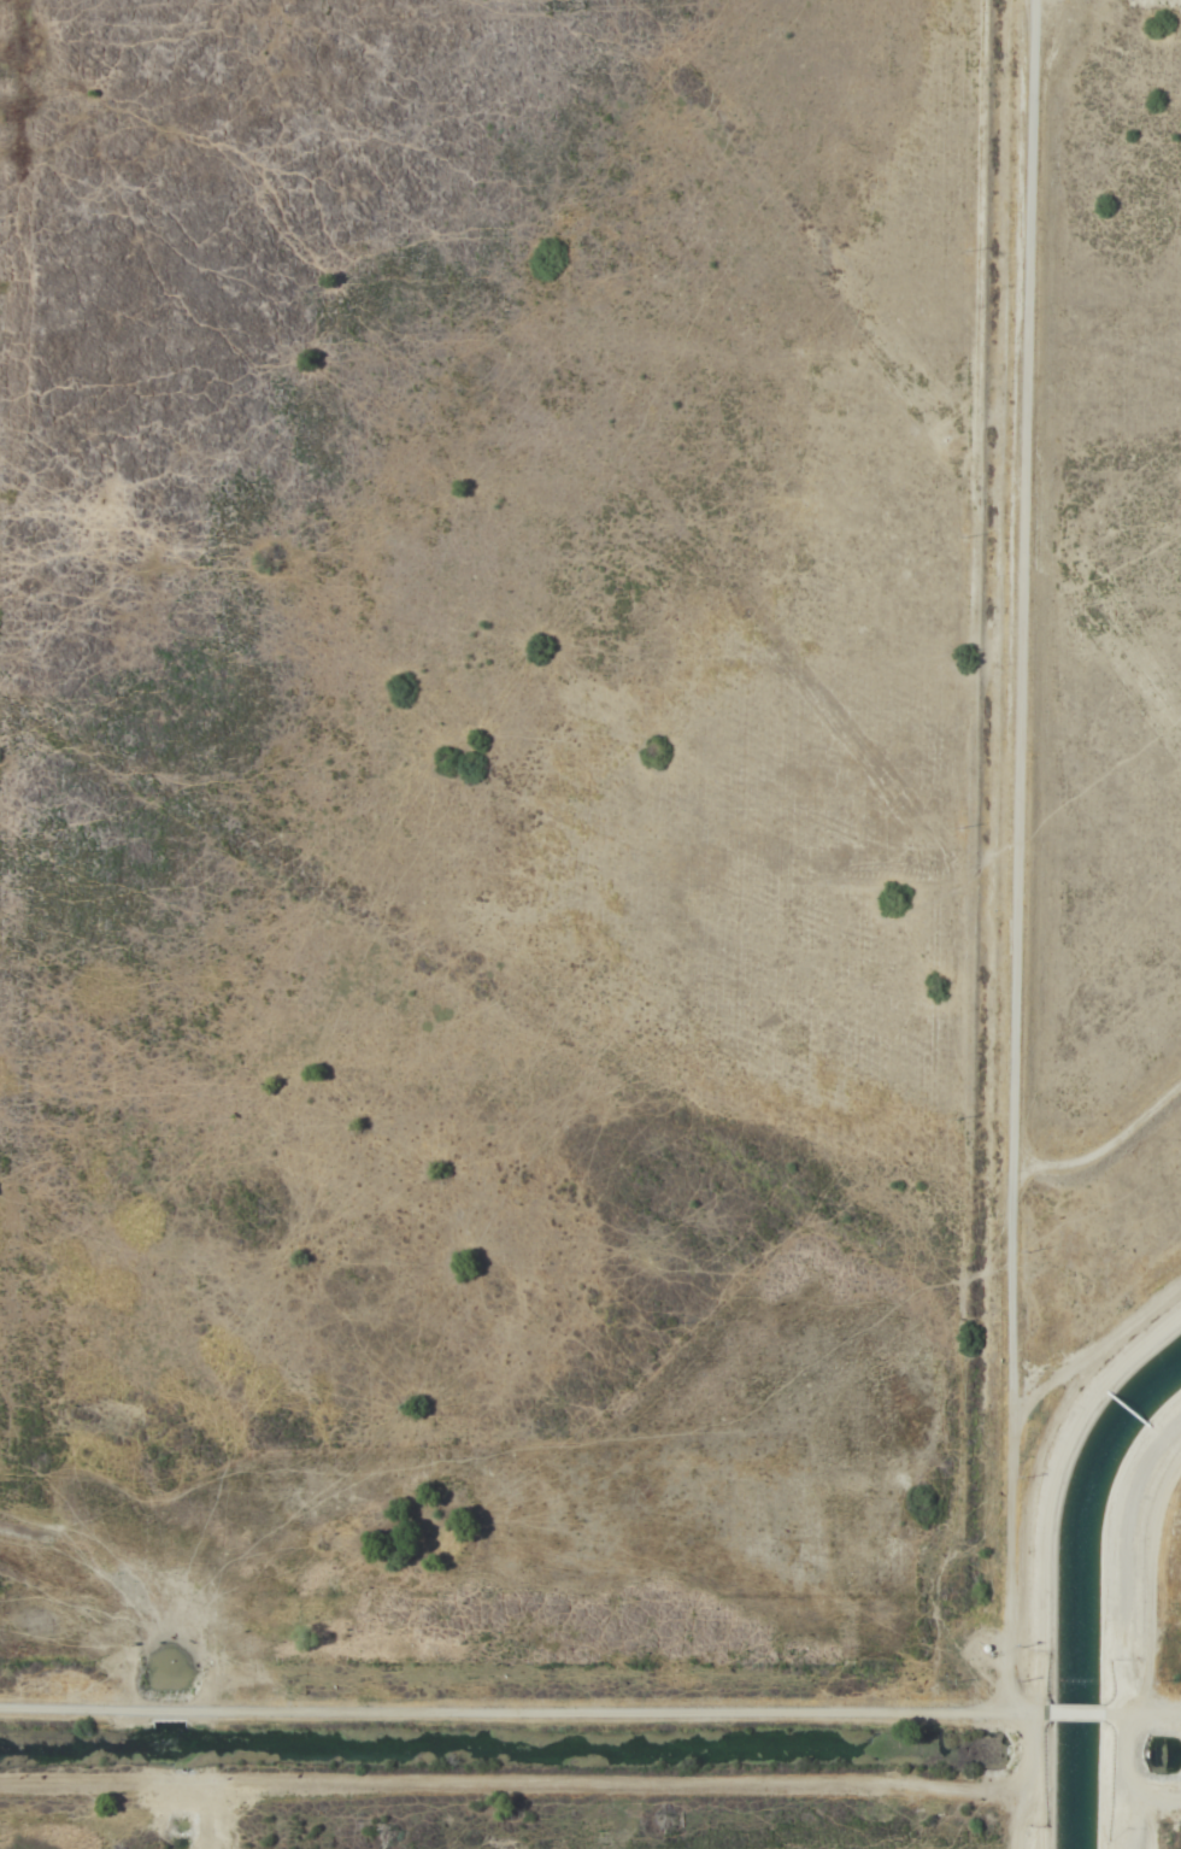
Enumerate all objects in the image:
crop: (572, 900)
road: (1011, 1366)
road: (539, 1775)

